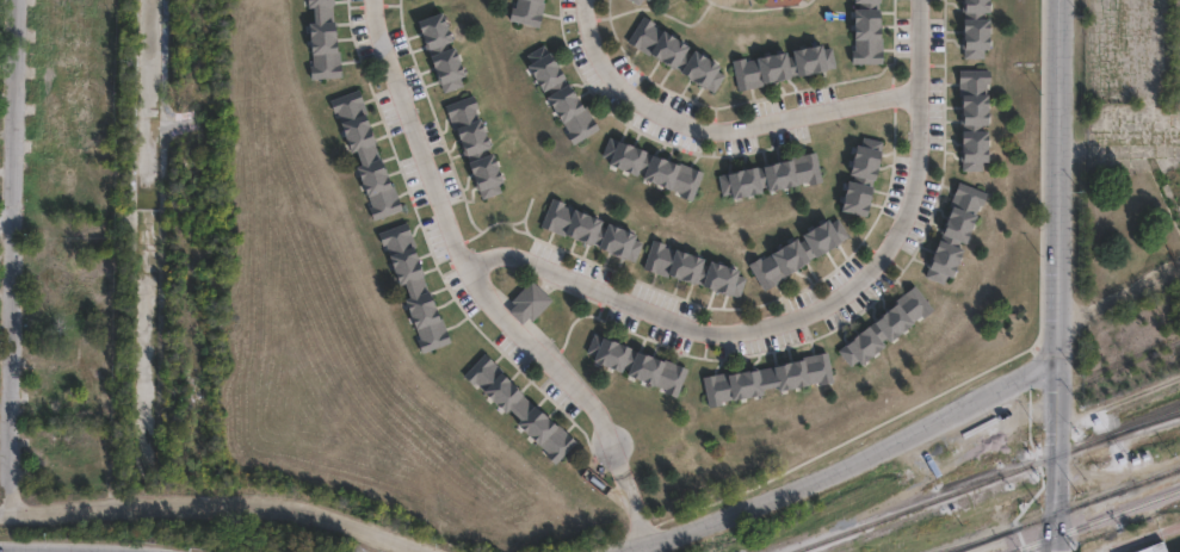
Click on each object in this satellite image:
building: (637, 1)
building: (525, 13)
building: (975, 25)
building: (865, 33)
building: (321, 39)
building: (440, 49)
building: (674, 55)
building: (781, 67)
building: (560, 93)
building: (974, 112)
road: (716, 130)
building: (474, 144)
building: (364, 153)
building: (650, 167)
building: (859, 175)
building: (771, 176)
road: (7, 216)
building: (588, 228)
building: (953, 234)
building: (797, 253)
road: (14, 254)
road: (458, 256)
building: (692, 269)
road: (1056, 275)
building: (413, 287)
building: (529, 302)
road: (805, 314)
building: (885, 328)
building: (638, 356)
railway: (1135, 360)
building: (767, 379)
building: (519, 410)
railway: (1143, 421)
railway: (1142, 424)
road: (852, 464)
railway: (1156, 476)
railway: (947, 494)
road: (224, 502)
railway: (876, 506)
railway: (1063, 509)
road: (7, 510)
road: (635, 510)
railway: (1094, 520)
railway: (951, 542)
building: (1150, 546)
road: (416, 550)
road: (61, 551)
building: (1179, 551)

